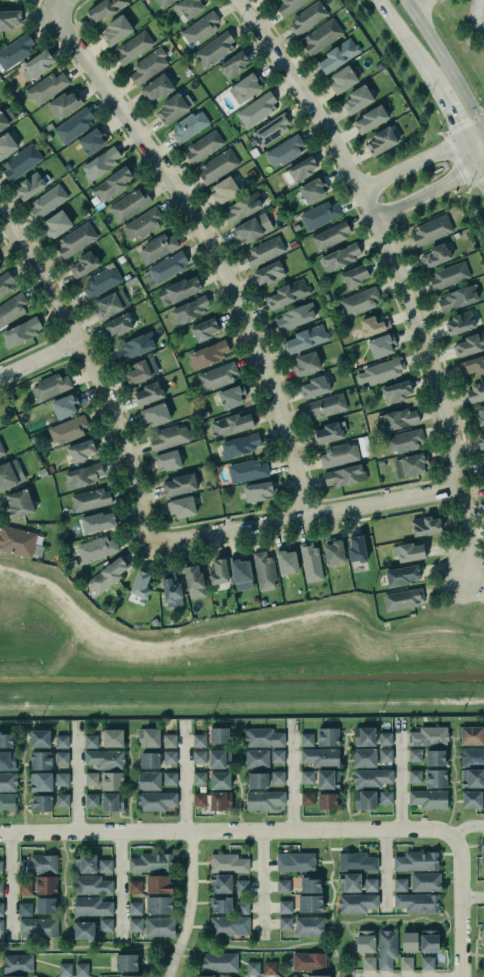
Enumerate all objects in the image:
building: (18, 0)
building: (163, 2)
road: (415, 4)
road: (55, 5)
building: (288, 5)
building: (190, 8)
building: (104, 9)
road: (475, 16)
building: (10, 18)
building: (307, 18)
building: (201, 27)
building: (117, 29)
building: (322, 35)
road: (405, 42)
building: (134, 45)
building: (214, 49)
building: (16, 50)
building: (338, 54)
road: (444, 63)
building: (37, 64)
building: (234, 64)
building: (148, 65)
building: (343, 79)
building: (248, 84)
building: (46, 86)
building: (156, 87)
building: (357, 99)
building: (66, 103)
building: (172, 108)
building: (257, 110)
road: (449, 111)
building: (6, 118)
building: (372, 118)
building: (74, 125)
building: (189, 125)
traffic signals: (483, 128)
building: (271, 130)
road: (474, 133)
traffic signals: (464, 138)
building: (93, 139)
building: (382, 141)
building: (7, 144)
building: (203, 145)
building: (284, 150)
road: (471, 153)
building: (21, 161)
building: (100, 162)
road: (410, 164)
building: (218, 165)
road: (481, 167)
traffic signals: (479, 169)
building: (299, 170)
road: (481, 175)
building: (112, 182)
building: (30, 185)
building: (224, 189)
building: (313, 190)
road: (425, 195)
building: (47, 200)
building: (129, 203)
building: (243, 206)
building: (320, 215)
building: (57, 223)
building: (143, 223)
building: (247, 229)
building: (431, 230)
building: (330, 234)
building: (76, 239)
road: (207, 246)
building: (158, 247)
building: (265, 250)
building: (340, 256)
building: (434, 256)
building: (0, 260)
building: (1, 264)
building: (83, 265)
building: (167, 266)
building: (269, 272)
road: (395, 272)
building: (354, 275)
building: (448, 276)
building: (6, 281)
building: (101, 282)
building: (179, 290)
building: (288, 293)
building: (457, 298)
building: (359, 301)
building: (110, 303)
building: (13, 308)
building: (190, 310)
building: (295, 315)
building: (460, 322)
building: (117, 324)
building: (374, 325)
building: (205, 328)
building: (21, 331)
building: (307, 337)
building: (470, 344)
building: (382, 345)
building: (135, 346)
building: (208, 354)
road: (38, 357)
building: (305, 364)
building: (471, 366)
building: (383, 369)
building: (141, 370)
road: (91, 373)
building: (218, 374)
building: (50, 386)
building: (314, 387)
building: (396, 391)
building: (476, 391)
building: (149, 393)
building: (232, 396)
building: (65, 405)
building: (325, 406)
building: (154, 414)
building: (479, 414)
building: (398, 419)
building: (231, 424)
building: (67, 430)
building: (329, 432)
building: (169, 436)
building: (480, 439)
building: (403, 441)
building: (240, 444)
building: (1, 449)
building: (81, 449)
building: (338, 455)
building: (167, 460)
building: (483, 461)
building: (411, 464)
building: (247, 470)
building: (10, 474)
building: (83, 475)
building: (344, 476)
building: (180, 484)
building: (258, 491)
building: (90, 498)
building: (19, 503)
building: (180, 507)
road: (302, 515)
building: (98, 522)
building: (426, 525)
building: (17, 540)
building: (97, 548)
building: (357, 548)
building: (409, 552)
building: (333, 553)
building: (287, 561)
building: (310, 561)
building: (240, 569)
building: (264, 569)
building: (219, 572)
building: (108, 574)
building: (402, 575)
building: (194, 581)
building: (141, 584)
road: (56, 587)
building: (171, 590)
building: (402, 600)
road: (482, 605)
road: (216, 633)
road: (406, 633)
road: (241, 702)
building: (326, 734)
building: (362, 734)
building: (427, 734)
building: (38, 735)
building: (219, 735)
building: (471, 735)
building: (384, 736)
building: (5, 737)
building: (148, 737)
building: (263, 737)
building: (305, 737)
building: (112, 738)
building: (60, 740)
building: (169, 740)
building: (198, 740)
building: (91, 741)
building: (384, 754)
building: (414, 754)
building: (168, 755)
building: (319, 755)
building: (363, 755)
building: (471, 755)
building: (277, 756)
building: (60, 757)
building: (199, 757)
building: (6, 758)
building: (39, 758)
building: (256, 758)
building: (435, 758)
building: (105, 759)
building: (219, 759)
building: (149, 760)
road: (399, 772)
road: (290, 774)
road: (182, 775)
building: (305, 775)
building: (415, 776)
road: (74, 777)
building: (90, 777)
building: (277, 777)
building: (327, 777)
building: (370, 777)
building: (60, 778)
building: (169, 778)
building: (199, 778)
building: (435, 778)
building: (472, 778)
building: (40, 779)
building: (111, 779)
building: (7, 780)
road: (23, 780)
building: (219, 780)
building: (257, 780)
building: (148, 781)
road: (236, 781)
road: (343, 781)
road: (129, 783)
road: (452, 783)
building: (384, 796)
building: (470, 796)
building: (305, 797)
building: (60, 798)
building: (325, 798)
building: (362, 798)
building: (199, 799)
building: (428, 799)
building: (40, 800)
building: (91, 800)
building: (265, 800)
building: (7, 801)
building: (156, 801)
building: (220, 801)
building: (112, 802)
road: (464, 826)
road: (225, 830)
building: (482, 851)
building: (415, 859)
building: (355, 860)
building: (84, 861)
building: (37, 862)
building: (150, 862)
building: (295, 862)
building: (228, 863)
building: (104, 864)
building: (0, 866)
road: (382, 868)
building: (349, 882)
building: (425, 882)
road: (119, 883)
building: (220, 883)
road: (329, 883)
building: (44, 884)
building: (90, 884)
building: (159, 884)
building: (399, 884)
road: (8, 885)
road: (259, 885)
building: (282, 885)
building: (310, 885)
building: (370, 885)
building: (23, 886)
building: (134, 886)
building: (241, 886)
building: (0, 887)
road: (63, 891)
road: (471, 896)
building: (415, 901)
building: (44, 903)
building: (310, 903)
building: (356, 903)
road: (459, 904)
building: (90, 905)
building: (158, 905)
road: (188, 905)
building: (221, 905)
building: (285, 906)
building: (24, 907)
building: (242, 907)
building: (134, 908)
building: (1, 909)
road: (395, 921)
building: (105, 923)
building: (285, 923)
building: (0, 924)
building: (135, 924)
building: (36, 925)
building: (229, 925)
building: (159, 926)
building: (309, 926)
building: (82, 927)
building: (482, 932)
building: (429, 940)
building: (365, 941)
building: (409, 941)
road: (322, 943)
road: (161, 946)
building: (386, 949)
road: (475, 954)
road: (335, 960)
building: (308, 961)
building: (126, 962)
building: (218, 962)
building: (368, 963)
building: (406, 963)
building: (427, 963)
building: (17, 964)
building: (252, 968)
building: (269, 968)
building: (482, 968)
building: (65, 969)
building: (81, 969)
building: (12, 975)
building: (293, 975)
road: (405, 975)
building: (37, 976)
building: (131, 976)
building: (202, 976)
building: (227, 976)
building: (319, 976)

